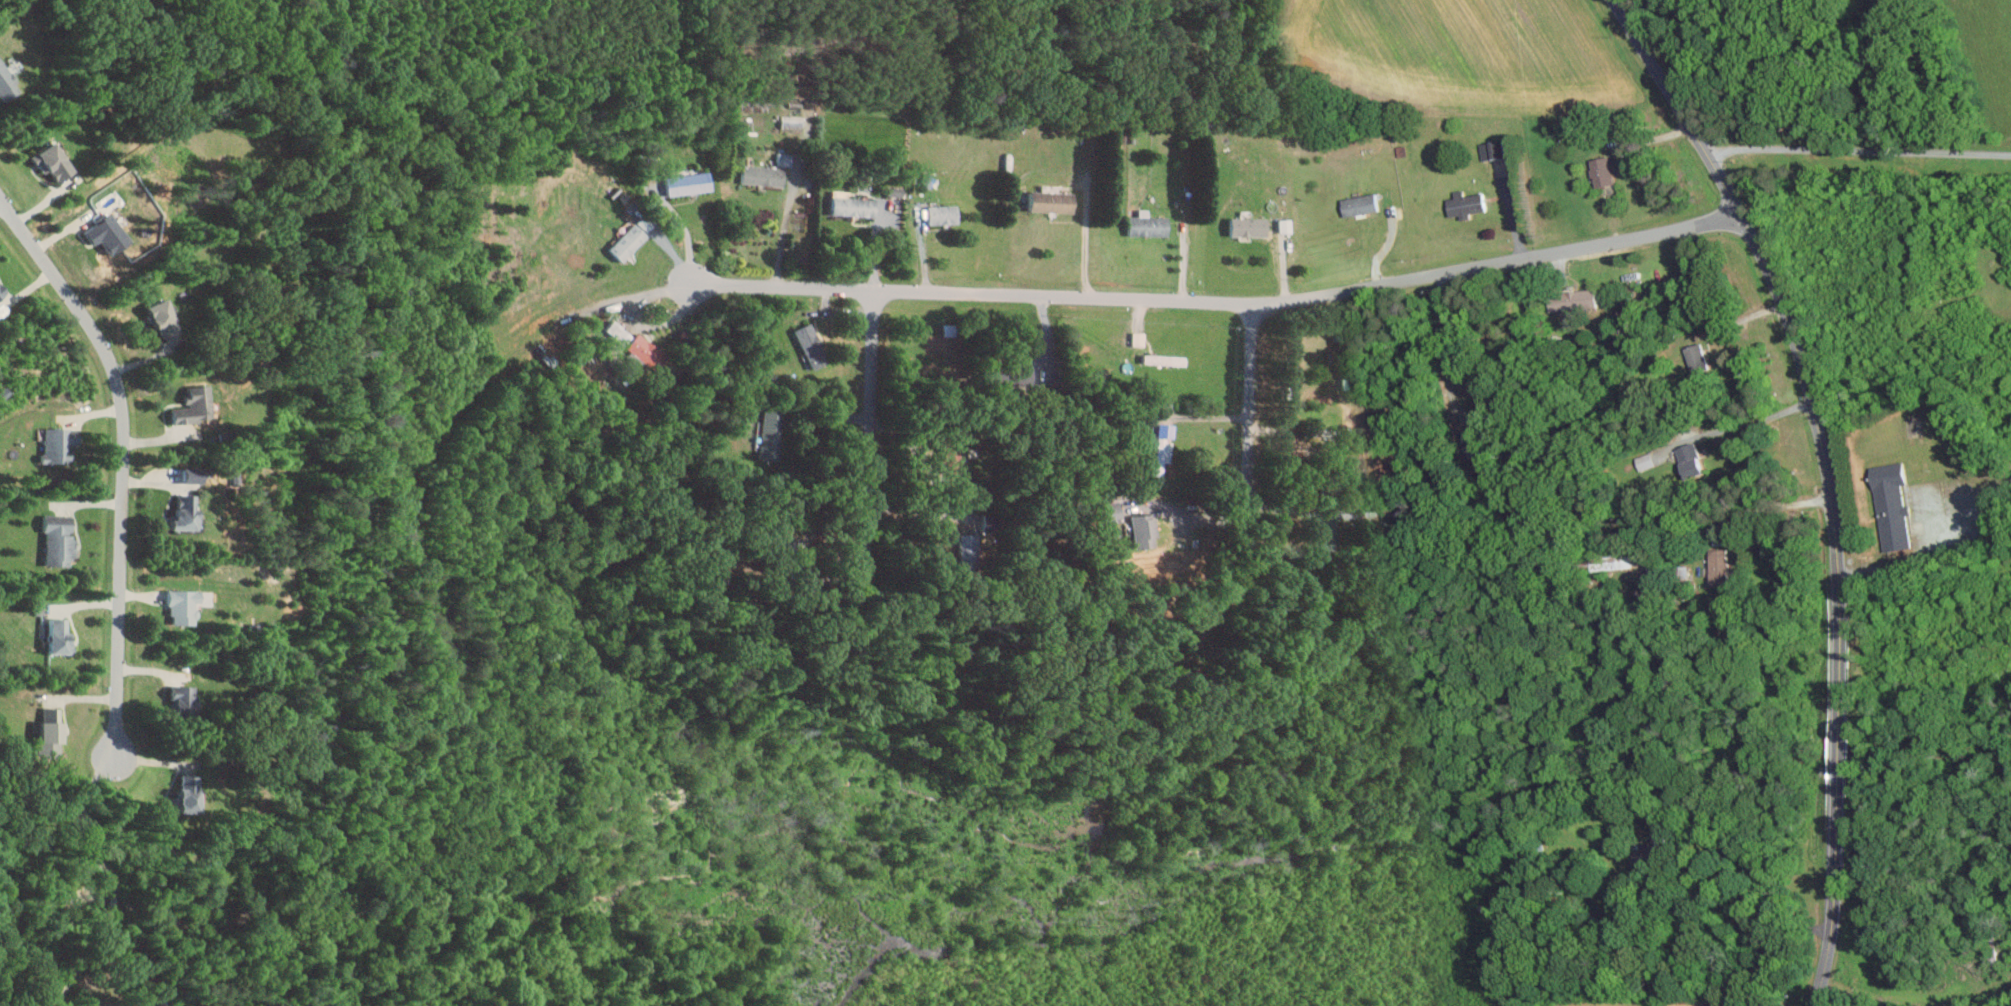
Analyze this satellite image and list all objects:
building: (6, 82)
building: (791, 121)
road: (1856, 144)
building: (1488, 149)
building: (784, 159)
building: (54, 161)
building: (1599, 171)
building: (764, 175)
building: (688, 184)
road: (0, 200)
building: (1054, 201)
building: (1461, 204)
building: (1364, 205)
building: (855, 206)
building: (944, 214)
building: (1150, 224)
building: (1250, 226)
road: (784, 232)
building: (109, 233)
building: (632, 234)
road: (686, 234)
road: (1085, 241)
road: (1387, 244)
building: (1, 293)
road: (1021, 296)
building: (1567, 300)
building: (165, 318)
building: (951, 329)
building: (618, 332)
building: (1140, 338)
road: (1794, 343)
building: (814, 345)
building: (649, 351)
building: (1692, 358)
building: (1170, 359)
road: (1250, 403)
building: (195, 406)
road: (1745, 424)
road: (870, 433)
building: (773, 435)
building: (61, 445)
building: (1163, 458)
road: (123, 459)
building: (1645, 460)
building: (1686, 460)
building: (187, 498)
building: (1887, 506)
road: (1764, 508)
road: (917, 511)
road: (1195, 517)
building: (1146, 531)
building: (60, 539)
building: (969, 552)
building: (1609, 562)
building: (1717, 566)
road: (1890, 571)
building: (186, 606)
building: (62, 637)
building: (184, 698)
building: (54, 726)
road: (1837, 750)
building: (191, 794)
road: (78, 824)
road: (1833, 889)
road: (113, 902)
road: (75, 963)
road: (70, 983)

